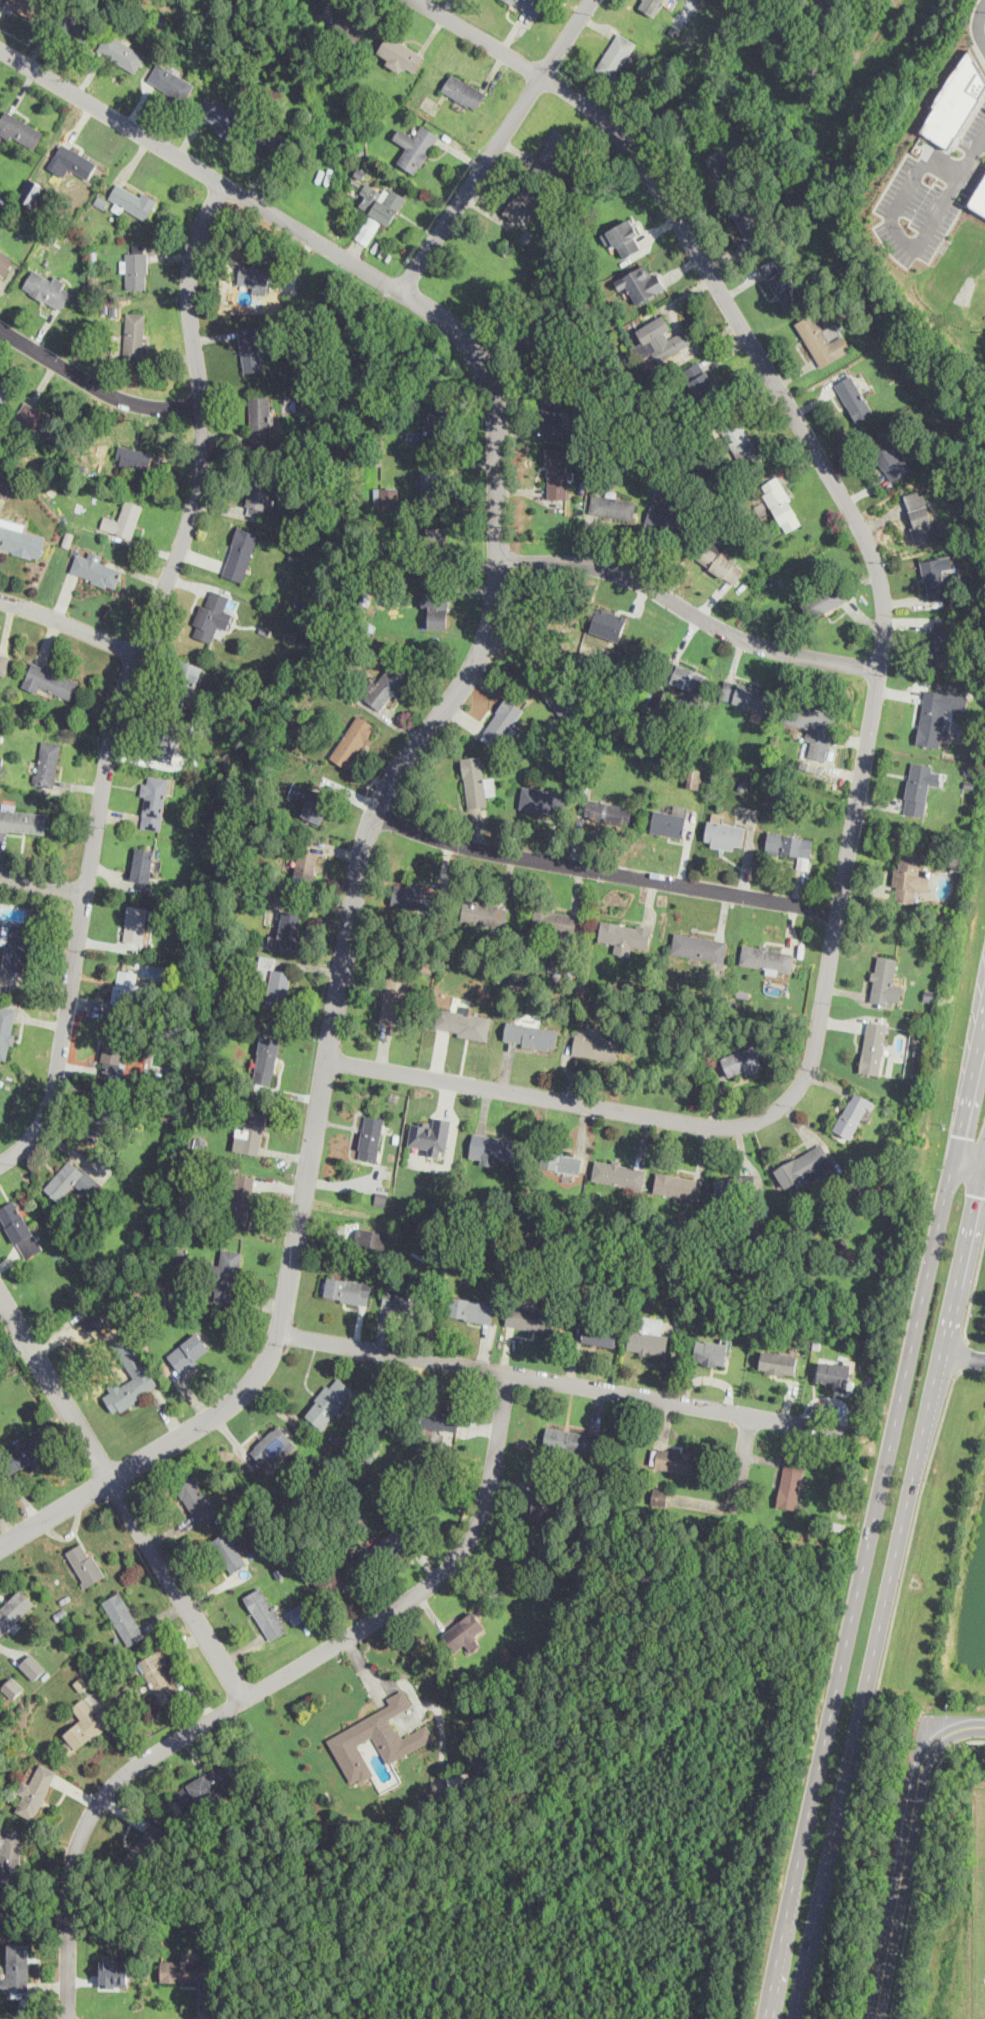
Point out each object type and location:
building: (531, 5)
building: (652, 5)
building: (25, 6)
building: (72, 23)
road: (977, 23)
building: (350, 26)
parking lot: (981, 47)
building: (120, 52)
building: (400, 54)
building: (615, 55)
building: (171, 81)
building: (464, 90)
building: (957, 101)
building: (221, 115)
building: (19, 129)
building: (267, 142)
road: (497, 145)
building: (415, 146)
building: (555, 147)
road: (973, 158)
building: (72, 161)
building: (720, 165)
parking lot: (929, 194)
building: (979, 199)
building: (132, 201)
building: (381, 202)
building: (523, 203)
building: (749, 221)
road: (893, 224)
building: (368, 229)
building: (625, 237)
building: (5, 260)
building: (136, 267)
building: (256, 278)
building: (641, 281)
building: (782, 281)
building: (48, 289)
building: (134, 335)
building: (659, 338)
building: (820, 339)
building: (250, 348)
building: (553, 356)
building: (699, 380)
road: (95, 385)
building: (4, 392)
building: (853, 397)
building: (553, 416)
building: (260, 417)
building: (42, 421)
building: (439, 424)
building: (739, 441)
building: (887, 455)
building: (134, 457)
building: (557, 473)
building: (435, 487)
building: (4, 488)
building: (259, 495)
building: (387, 499)
building: (779, 503)
building: (611, 506)
building: (667, 513)
building: (919, 516)
building: (124, 519)
building: (19, 538)
building: (438, 549)
building: (242, 553)
building: (719, 561)
building: (96, 569)
building: (936, 576)
building: (822, 600)
building: (437, 610)
road: (689, 610)
building: (213, 616)
road: (69, 623)
building: (606, 623)
building: (944, 645)
building: (4, 663)
road: (128, 676)
building: (681, 676)
building: (184, 679)
building: (50, 680)
building: (387, 686)
building: (745, 694)
building: (560, 699)
road: (873, 701)
building: (939, 714)
building: (502, 720)
building: (813, 725)
road: (424, 738)
building: (352, 740)
building: (169, 741)
building: (49, 763)
building: (693, 778)
building: (476, 782)
building: (919, 787)
building: (542, 799)
building: (315, 805)
building: (609, 811)
building: (153, 812)
building: (22, 819)
building: (668, 822)
building: (724, 834)
building: (789, 845)
building: (143, 864)
building: (306, 865)
road: (604, 871)
building: (909, 876)
road: (43, 884)
building: (414, 896)
building: (484, 912)
building: (555, 922)
building: (139, 924)
building: (289, 931)
building: (625, 935)
building: (698, 945)
building: (15, 948)
building: (766, 958)
building: (559, 966)
building: (884, 981)
building: (275, 983)
building: (126, 990)
building: (394, 995)
building: (463, 1023)
building: (5, 1028)
building: (530, 1034)
building: (594, 1043)
building: (873, 1047)
building: (114, 1053)
building: (266, 1058)
building: (742, 1061)
building: (101, 1115)
building: (852, 1115)
building: (249, 1132)
traffic signals: (958, 1134)
building: (431, 1135)
building: (369, 1138)
building: (494, 1147)
road: (970, 1151)
building: (563, 1162)
building: (805, 1165)
building: (618, 1173)
road: (967, 1173)
building: (72, 1181)
building: (677, 1185)
building: (735, 1185)
traffic signals: (977, 1194)
building: (240, 1198)
building: (19, 1228)
building: (369, 1237)
building: (225, 1274)
road: (973, 1286)
building: (347, 1289)
building: (406, 1299)
building: (473, 1309)
building: (530, 1317)
building: (96, 1318)
building: (599, 1333)
building: (647, 1334)
building: (189, 1352)
building: (711, 1352)
road: (962, 1353)
road: (962, 1356)
building: (777, 1362)
building: (834, 1373)
road: (564, 1381)
building: (128, 1390)
building: (328, 1401)
building: (439, 1419)
building: (571, 1441)
building: (274, 1444)
building: (27, 1452)
building: (674, 1459)
road: (741, 1463)
building: (791, 1481)
building: (660, 1495)
road: (122, 1497)
building: (196, 1499)
building: (542, 1504)
road: (875, 1515)
building: (389, 1545)
building: (229, 1550)
building: (85, 1564)
building: (332, 1580)
road: (887, 1586)
building: (14, 1608)
building: (265, 1612)
building: (299, 1612)
building: (124, 1617)
building: (465, 1632)
building: (507, 1652)
building: (32, 1666)
building: (158, 1676)
building: (80, 1683)
road: (264, 1686)
building: (12, 1687)
road: (876, 1690)
building: (84, 1726)
building: (377, 1737)
building: (459, 1777)
building: (206, 1785)
building: (35, 1790)
building: (148, 1847)
road: (904, 1851)
building: (10, 1854)
road: (918, 1863)
building: (16, 1968)
building: (185, 1970)
building: (113, 1972)

